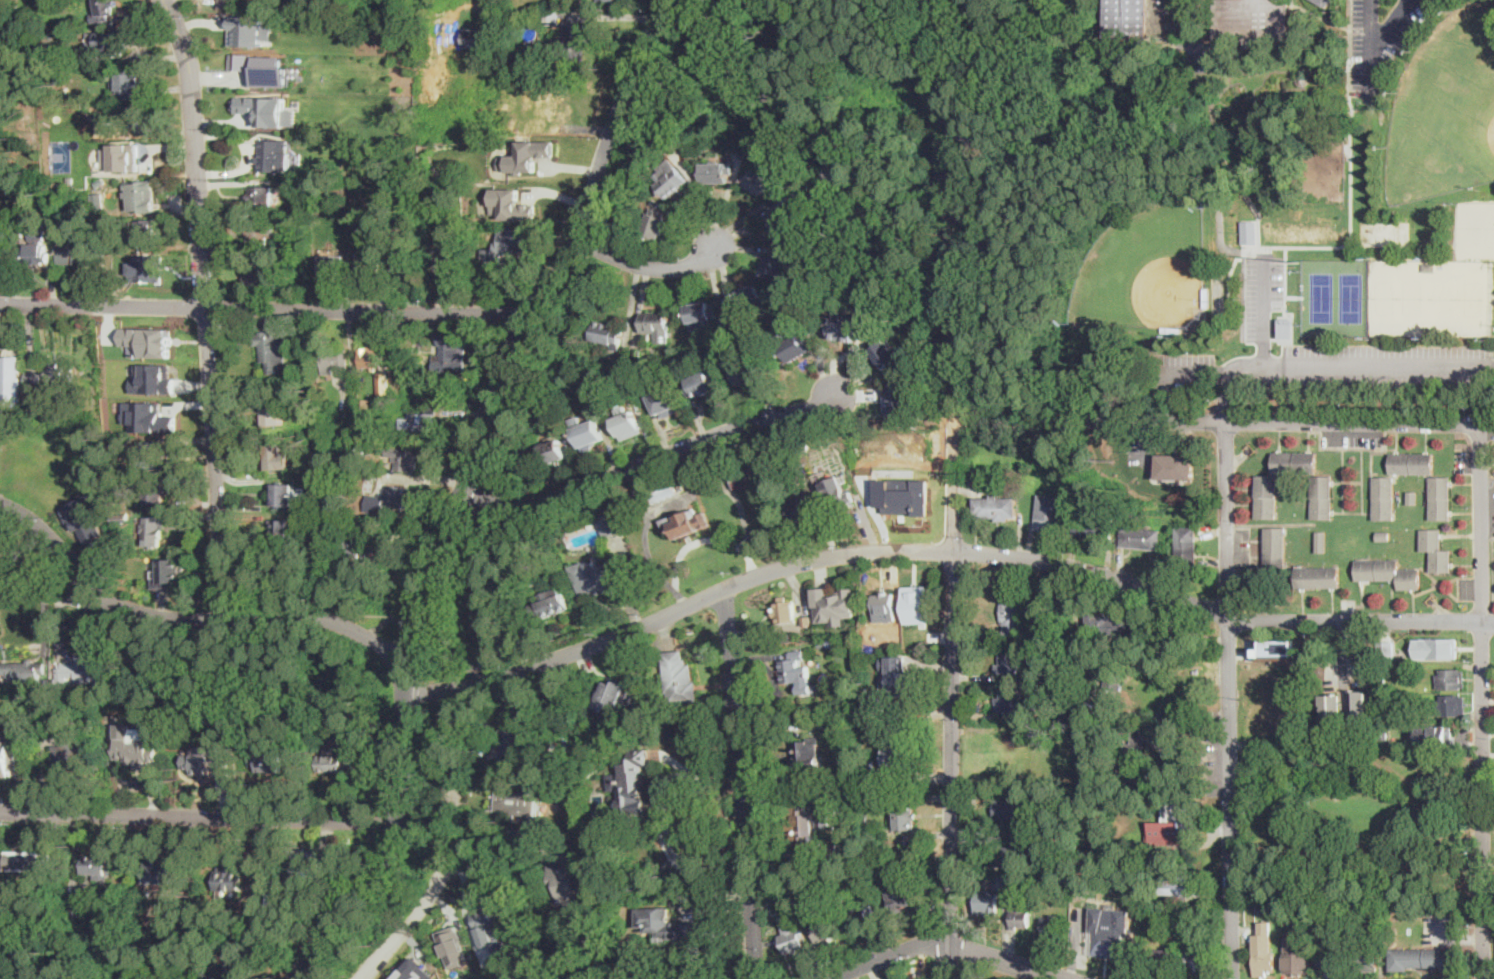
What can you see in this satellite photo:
building: (2, 0)
building: (606, 0)
building: (1325, 2)
road: (486, 3)
building: (229, 4)
building: (103, 10)
road: (865, 13)
building: (1138, 18)
building: (551, 20)
building: (33, 22)
building: (1252, 22)
building: (250, 30)
building: (11, 32)
parking lot: (1381, 37)
building: (474, 39)
building: (113, 42)
building: (47, 43)
building: (572, 45)
road: (1376, 46)
building: (512, 65)
building: (1303, 79)
building: (275, 81)
building: (127, 84)
building: (326, 97)
park: (1444, 107)
building: (267, 109)
building: (140, 118)
building: (361, 121)
building: (117, 132)
building: (427, 132)
building: (762, 141)
building: (732, 142)
building: (869, 144)
building: (881, 147)
building: (126, 156)
building: (274, 156)
building: (526, 156)
building: (716, 173)
building: (519, 174)
building: (837, 176)
park: (1158, 180)
building: (99, 182)
building: (670, 182)
building: (760, 183)
building: (141, 196)
building: (261, 196)
building: (503, 197)
building: (97, 201)
building: (812, 208)
road: (886, 209)
building: (780, 224)
building: (655, 226)
park: (1477, 230)
building: (1251, 231)
building: (146, 233)
building: (259, 236)
road: (1347, 241)
building: (36, 245)
building: (506, 245)
building: (69, 246)
road: (626, 247)
building: (5, 249)
building: (446, 262)
building: (405, 264)
building: (368, 265)
building: (331, 266)
road: (646, 266)
building: (776, 266)
park: (1146, 268)
building: (1429, 268)
building: (146, 269)
building: (260, 276)
road: (1285, 280)
building: (1206, 297)
park: (1340, 297)
park: (1434, 300)
building: (749, 301)
road: (206, 305)
road: (261, 311)
building: (830, 312)
building: (700, 313)
road: (1264, 315)
building: (656, 325)
building: (845, 330)
building: (1171, 330)
building: (608, 334)
building: (726, 339)
building: (147, 341)
building: (269, 347)
building: (799, 348)
building: (637, 353)
building: (447, 354)
building: (886, 354)
parking lot: (1321, 355)
building: (6, 356)
building: (334, 360)
building: (375, 365)
road: (1326, 369)
building: (751, 373)
building: (60, 377)
building: (34, 379)
building: (140, 382)
building: (437, 384)
building: (702, 385)
road: (1227, 396)
building: (633, 397)
building: (900, 399)
building: (665, 401)
building: (108, 404)
building: (344, 404)
building: (52, 406)
building: (596, 410)
building: (148, 417)
building: (280, 417)
road: (1216, 420)
building: (626, 421)
building: (420, 422)
building: (588, 432)
building: (361, 450)
building: (553, 452)
building: (147, 455)
building: (278, 457)
building: (404, 459)
road: (648, 461)
building: (1294, 462)
building: (1412, 464)
building: (1176, 467)
building: (748, 478)
building: (687, 486)
road: (462, 489)
building: (681, 489)
building: (155, 490)
building: (663, 491)
building: (836, 493)
building: (903, 495)
building: (285, 496)
building: (1267, 497)
building: (1322, 497)
building: (1384, 498)
building: (1412, 498)
building: (1440, 498)
building: (392, 499)
building: (644, 501)
road: (674, 502)
road: (507, 503)
building: (996, 507)
parking lot: (1484, 510)
building: (805, 511)
building: (1051, 513)
building: (120, 515)
building: (84, 516)
building: (1091, 521)
building: (610, 524)
building: (687, 524)
building: (282, 532)
building: (155, 533)
building: (386, 535)
building: (1384, 536)
building: (1141, 538)
road: (710, 540)
building: (1321, 542)
road: (53, 546)
building: (1186, 546)
building: (1275, 549)
building: (1436, 550)
park: (19, 551)
building: (365, 551)
road: (954, 565)
building: (285, 568)
building: (1387, 573)
building: (167, 574)
building: (601, 576)
road: (1108, 577)
building: (1318, 578)
road: (438, 580)
road: (47, 594)
building: (886, 603)
building: (916, 604)
building: (833, 605)
building: (551, 606)
building: (785, 612)
building: (1016, 613)
building: (486, 615)
building: (806, 620)
building: (1111, 622)
building: (1181, 624)
building: (811, 636)
building: (844, 640)
building: (828, 643)
building: (865, 647)
building: (1278, 647)
building: (1435, 647)
building: (1386, 649)
building: (812, 653)
building: (1009, 662)
building: (791, 666)
building: (85, 671)
building: (896, 671)
building: (30, 672)
building: (1114, 672)
road: (409, 678)
building: (679, 678)
building: (4, 679)
building: (1451, 680)
building: (1383, 682)
road: (417, 694)
building: (617, 697)
road: (1229, 699)
building: (1163, 700)
building: (1012, 701)
road: (1482, 701)
building: (1357, 706)
building: (1451, 706)
building: (1330, 710)
building: (840, 724)
building: (566, 726)
building: (1436, 735)
building: (510, 744)
building: (13, 748)
building: (900, 748)
building: (1142, 748)
building: (202, 753)
building: (138, 754)
building: (336, 754)
building: (810, 754)
building: (74, 755)
building: (271, 759)
building: (631, 762)
building: (864, 763)
building: (1150, 781)
road: (739, 784)
building: (632, 799)
building: (515, 801)
road: (1488, 813)
road: (198, 816)
building: (904, 816)
building: (811, 821)
building: (862, 821)
building: (1169, 824)
park: (1358, 824)
road: (663, 826)
road: (506, 831)
building: (1133, 832)
building: (1014, 833)
road: (441, 843)
building: (1130, 843)
road: (451, 849)
building: (829, 849)
building: (29, 859)
building: (307, 863)
building: (881, 865)
building: (100, 866)
building: (1061, 866)
building: (159, 873)
building: (229, 879)
building: (999, 880)
building: (568, 882)
building: (1027, 883)
building: (635, 885)
building: (1180, 886)
building: (899, 897)
building: (987, 904)
building: (80, 908)
building: (1275, 908)
building: (1374, 909)
building: (1019, 912)
building: (1335, 913)
building: (487, 915)
building: (792, 915)
building: (860, 916)
building: (1305, 920)
building: (664, 924)
building: (1049, 926)
building: (828, 928)
building: (1109, 930)
building: (793, 937)
road: (943, 940)
building: (453, 946)
building: (1199, 957)
building: (1262, 957)
building: (1367, 958)
building: (1297, 959)
building: (1430, 959)
building: (1394, 960)
building: (1160, 961)
building: (1329, 962)
building: (241, 966)
building: (514, 972)
building: (208, 973)
building: (422, 973)
building: (1343, 974)
building: (529, 978)

